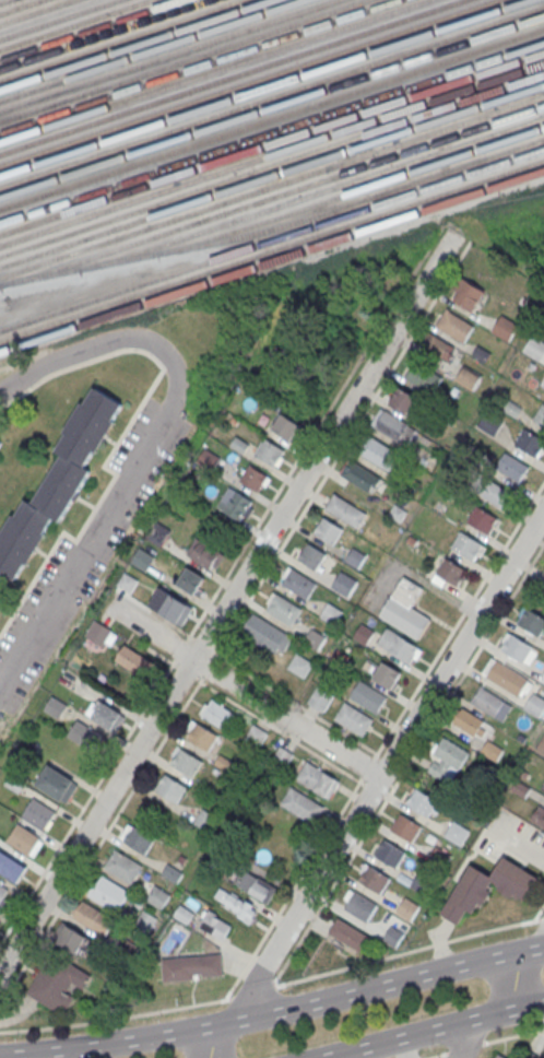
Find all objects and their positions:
railway: (2, 0)
railway: (19, 5)
railway: (36, 12)
railway: (57, 19)
railway: (74, 24)
railway: (88, 30)
railway: (105, 35)
railway: (120, 39)
railway: (134, 45)
railway: (151, 49)
railway: (166, 55)
railway: (182, 60)
railway: (197, 64)
railway: (212, 70)
railway: (229, 77)
railway: (246, 82)
railway: (263, 87)
railway: (272, 95)
railway: (272, 106)
railway: (272, 117)
railway: (272, 132)
railway: (272, 143)
railway: (272, 154)
railway: (272, 164)
railway: (272, 176)
railway: (272, 185)
railway: (351, 190)
railway: (312, 193)
railway: (272, 197)
railway: (275, 226)
railway: (272, 239)
railway: (272, 250)
railway: (272, 260)
building: (466, 293)
building: (456, 326)
building: (505, 329)
building: (438, 345)
building: (535, 349)
building: (481, 353)
building: (424, 377)
building: (468, 377)
building: (403, 400)
building: (540, 416)
building: (490, 423)
building: (287, 427)
building: (397, 428)
road: (312, 433)
road: (121, 435)
building: (0, 439)
building: (530, 442)
road: (343, 447)
road: (145, 449)
building: (270, 452)
building: (379, 454)
building: (511, 468)
building: (362, 478)
building: (255, 479)
building: (57, 481)
building: (410, 486)
building: (492, 492)
building: (236, 505)
building: (346, 512)
building: (398, 513)
building: (482, 519)
building: (329, 531)
building: (157, 532)
building: (412, 540)
building: (466, 544)
parking lot: (85, 550)
building: (206, 556)
building: (312, 557)
building: (142, 559)
building: (355, 559)
building: (543, 571)
building: (452, 572)
building: (127, 581)
building: (192, 583)
building: (300, 584)
building: (345, 585)
road: (224, 606)
building: (172, 607)
building: (405, 608)
road: (154, 611)
building: (285, 611)
building: (332, 614)
road: (458, 621)
building: (531, 622)
building: (364, 632)
building: (100, 633)
building: (265, 633)
building: (316, 640)
road: (203, 642)
building: (399, 646)
road: (180, 647)
building: (518, 649)
road: (163, 655)
building: (133, 660)
road: (470, 662)
road: (210, 665)
building: (300, 666)
road: (187, 669)
building: (387, 674)
road: (199, 677)
building: (506, 677)
building: (542, 678)
road: (244, 689)
building: (368, 696)
building: (320, 698)
road: (295, 701)
building: (490, 704)
building: (534, 704)
building: (55, 706)
building: (217, 714)
building: (105, 715)
building: (353, 718)
building: (472, 724)
road: (282, 730)
building: (83, 733)
building: (203, 736)
building: (255, 736)
building: (541, 747)
building: (492, 751)
building: (282, 755)
building: (447, 761)
building: (187, 762)
road: (367, 767)
building: (318, 779)
building: (14, 783)
building: (57, 783)
road: (375, 784)
road: (368, 785)
building: (170, 788)
building: (521, 788)
road: (87, 800)
building: (422, 801)
building: (301, 804)
building: (38, 813)
building: (539, 816)
building: (205, 820)
building: (406, 827)
building: (457, 833)
building: (140, 838)
building: (24, 839)
road: (100, 839)
building: (391, 853)
building: (12, 866)
building: (123, 866)
building: (173, 872)
building: (405, 878)
building: (374, 879)
building: (255, 884)
road: (293, 886)
building: (488, 886)
building: (2, 891)
building: (108, 893)
building: (158, 896)
building: (236, 904)
building: (359, 905)
building: (407, 908)
road: (539, 912)
building: (184, 914)
building: (93, 918)
road: (542, 918)
building: (146, 919)
building: (215, 927)
building: (348, 934)
building: (393, 936)
building: (71, 937)
building: (192, 967)
road: (521, 973)
building: (58, 981)
road: (289, 981)
road: (250, 992)
road: (274, 1012)
road: (116, 1018)
road: (433, 1030)
road: (511, 1035)
road: (466, 1038)
road: (464, 1048)
road: (438, 1055)
building: (497, 1056)
building: (534, 1056)

